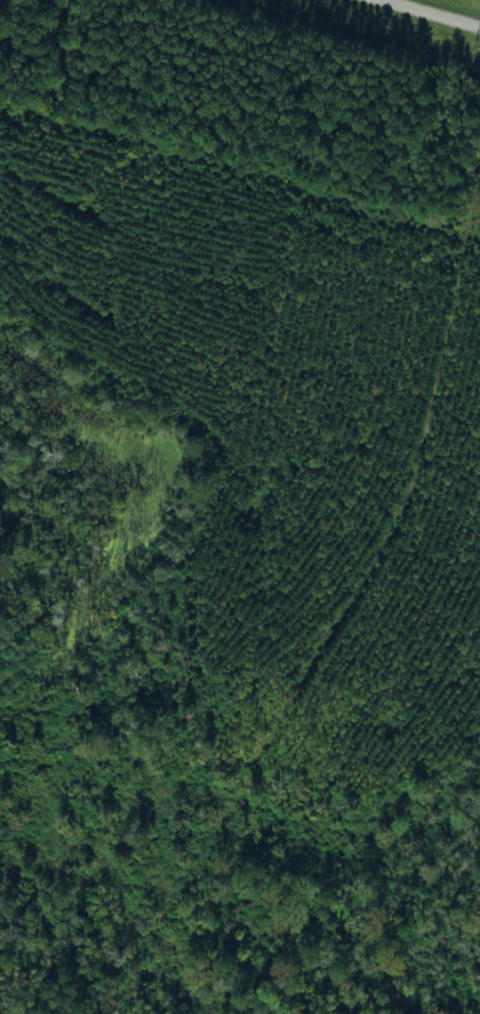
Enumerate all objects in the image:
road: (411, 18)

